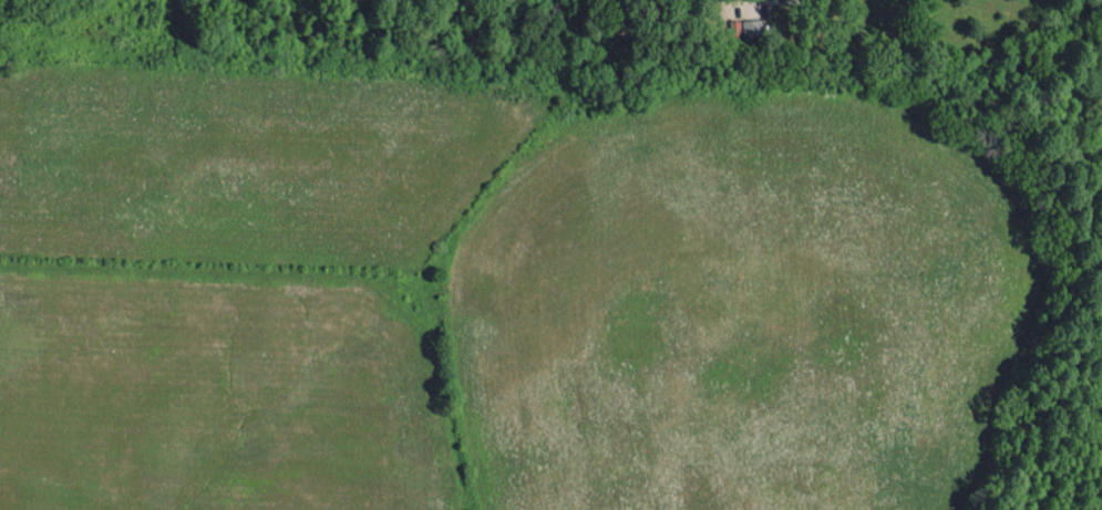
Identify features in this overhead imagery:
building: (777, 0)
building: (751, 27)

